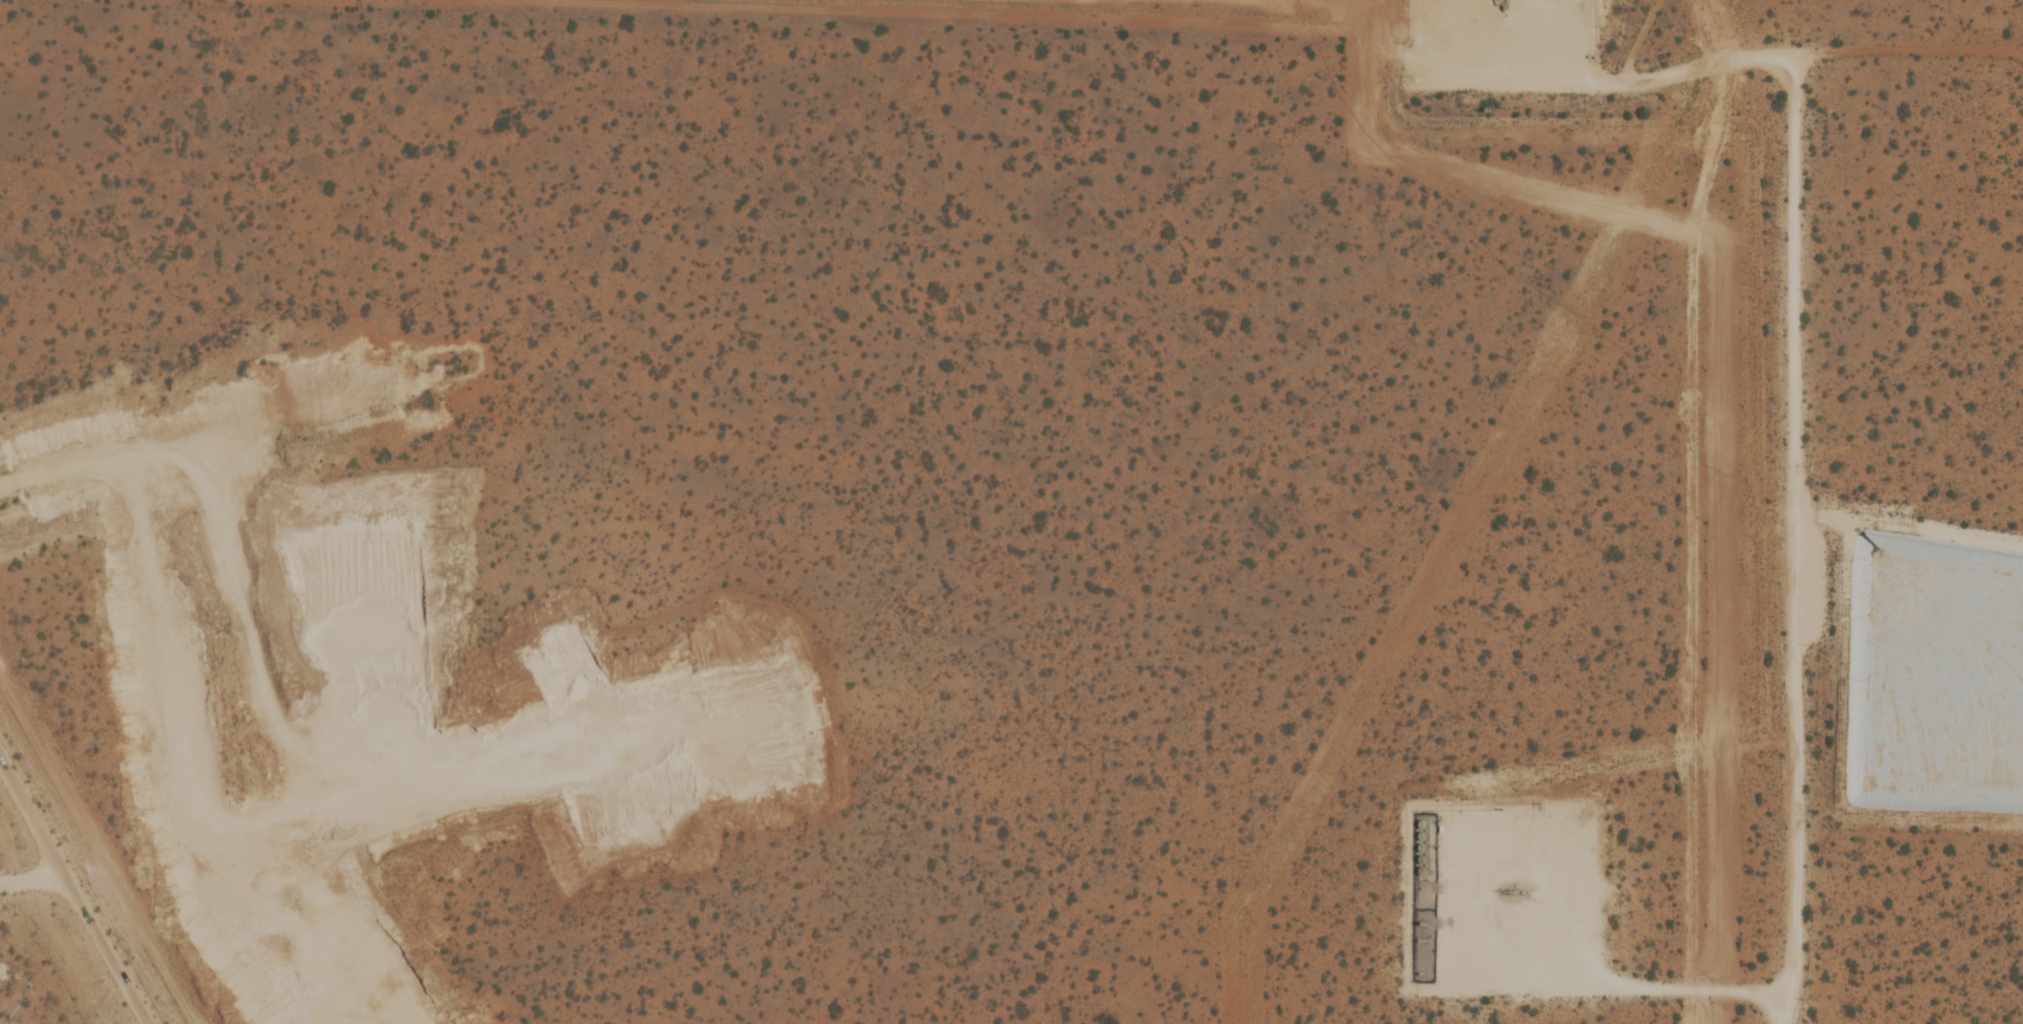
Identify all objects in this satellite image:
road: (1789, 357)
road: (30, 869)
road: (75, 889)
road: (1614, 994)

